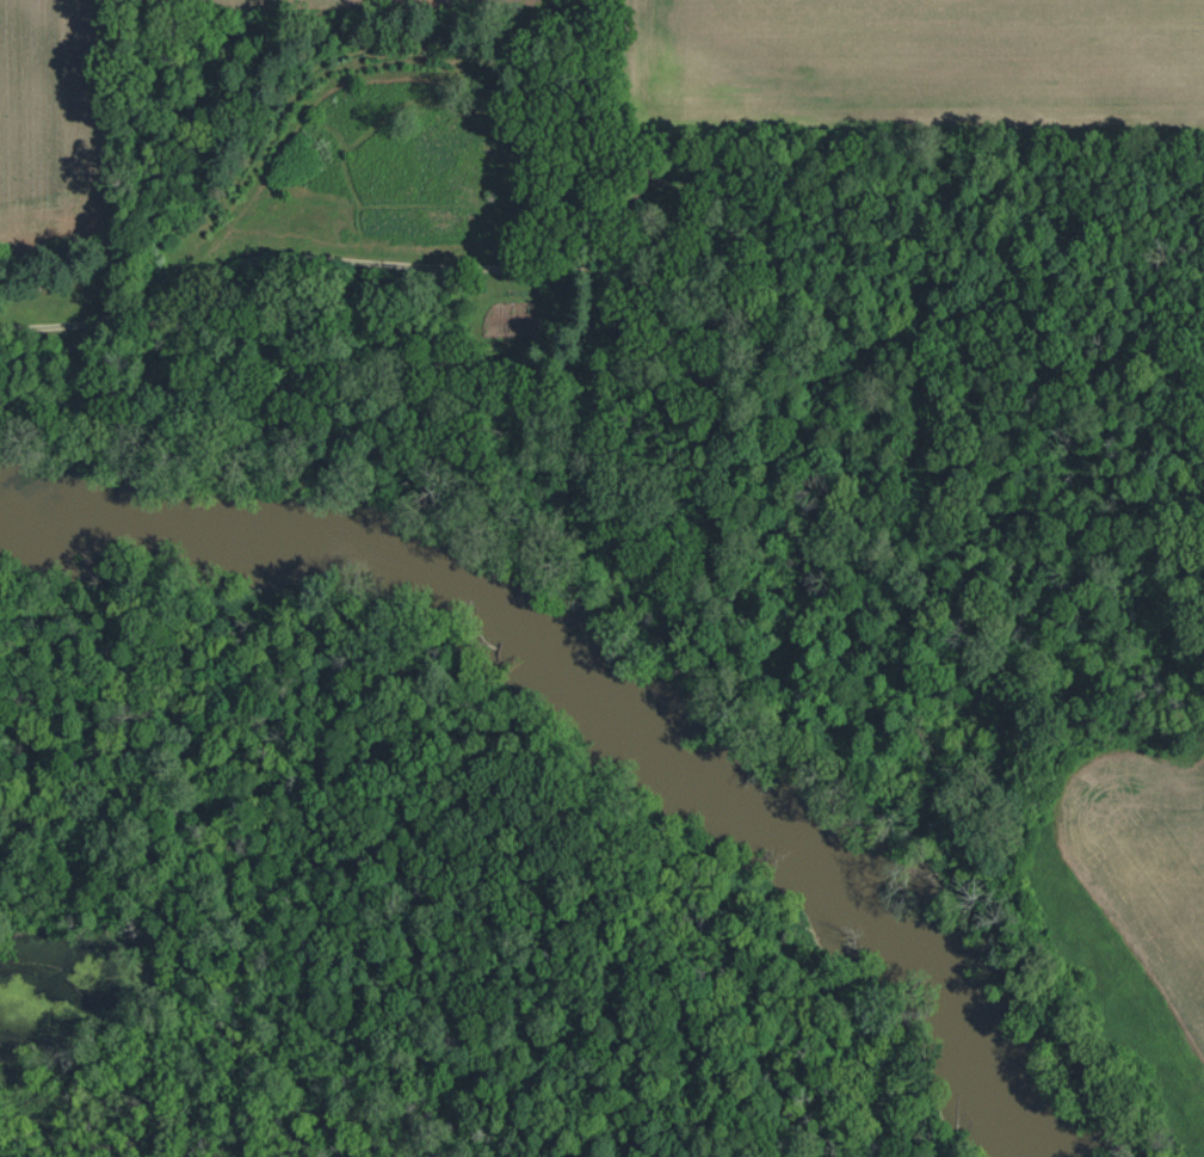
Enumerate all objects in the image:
road: (309, 258)
road: (692, 331)
river: (594, 691)

